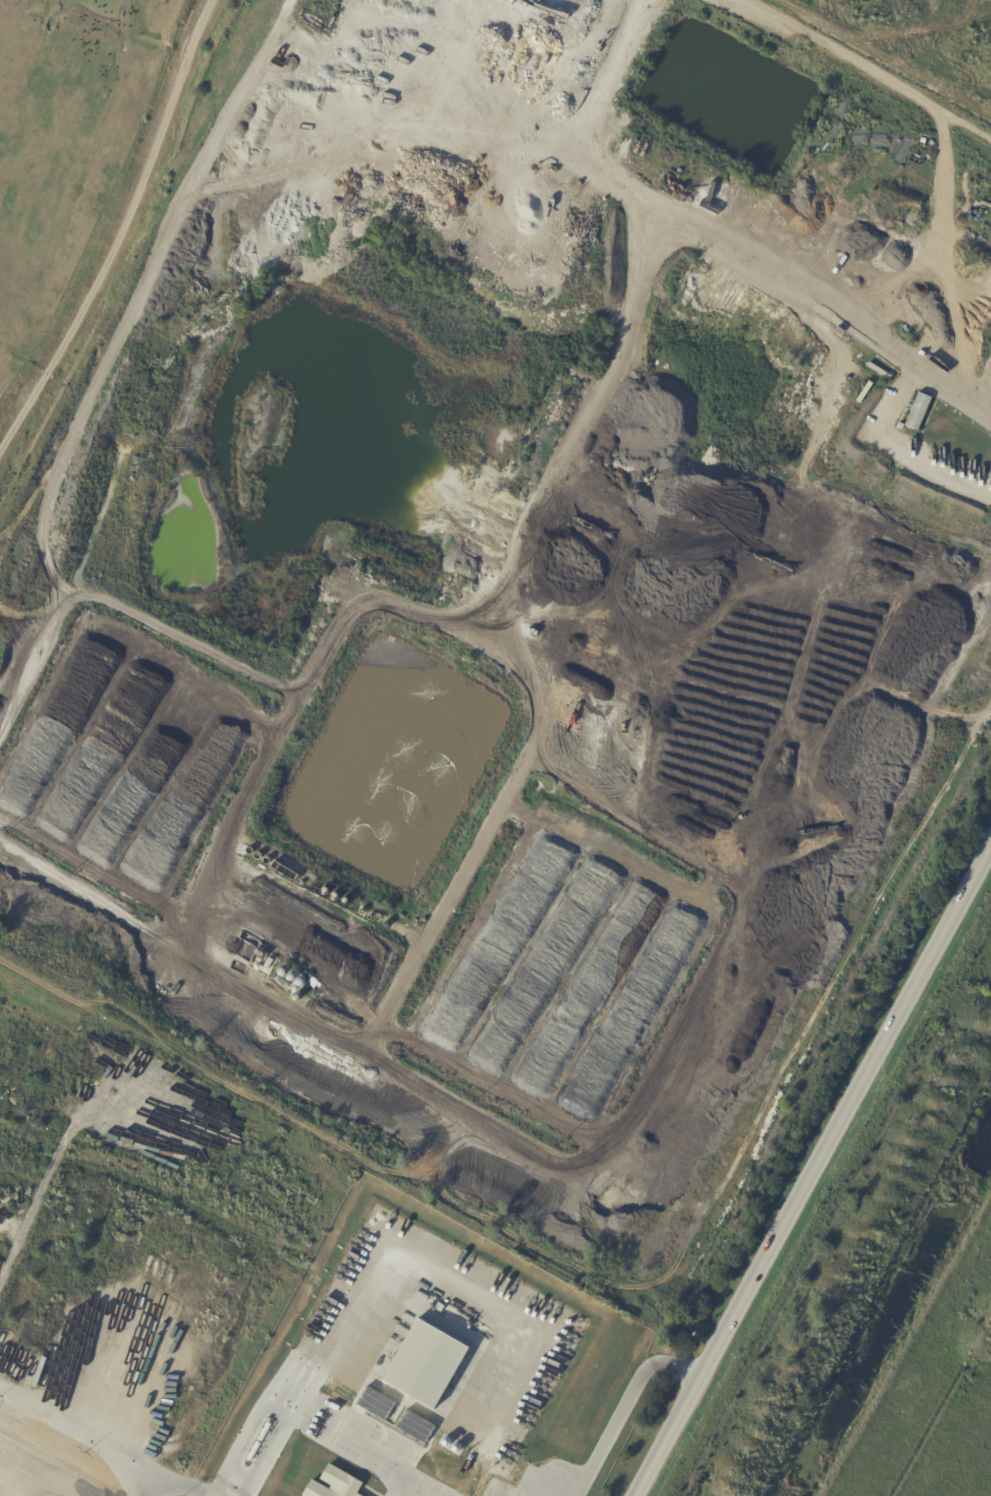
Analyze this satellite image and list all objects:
road: (870, 62)
road: (687, 216)
building: (919, 412)
road: (883, 421)
road: (813, 1176)
road: (433, 1273)
building: (439, 1307)
building: (426, 1365)
building: (376, 1403)
road: (625, 1405)
road: (272, 1406)
building: (415, 1426)
road: (83, 1434)
road: (386, 1461)
building: (442, 1481)
building: (333, 1484)
road: (179, 1488)

